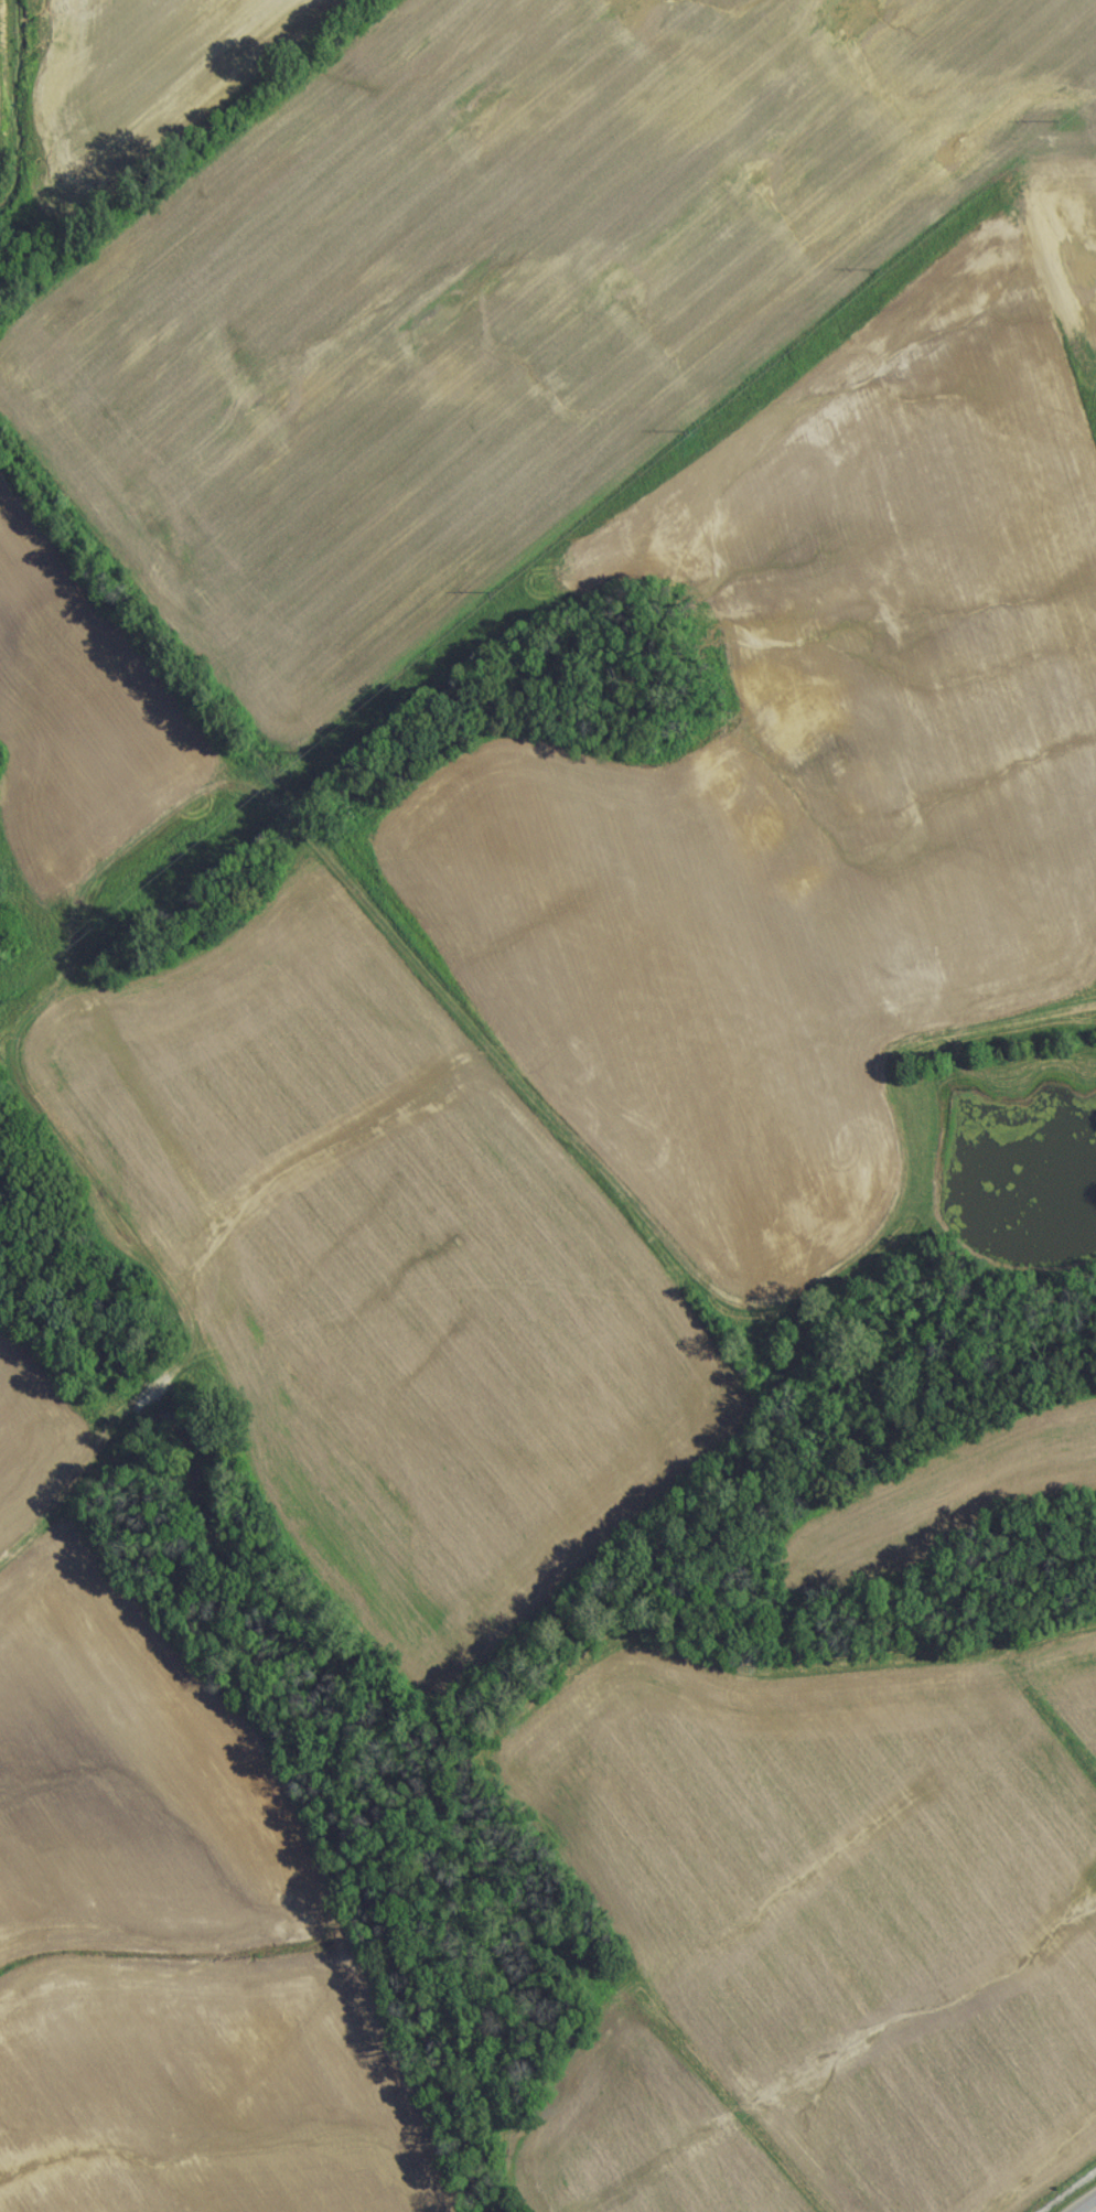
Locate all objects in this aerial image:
road: (1092, 2210)

